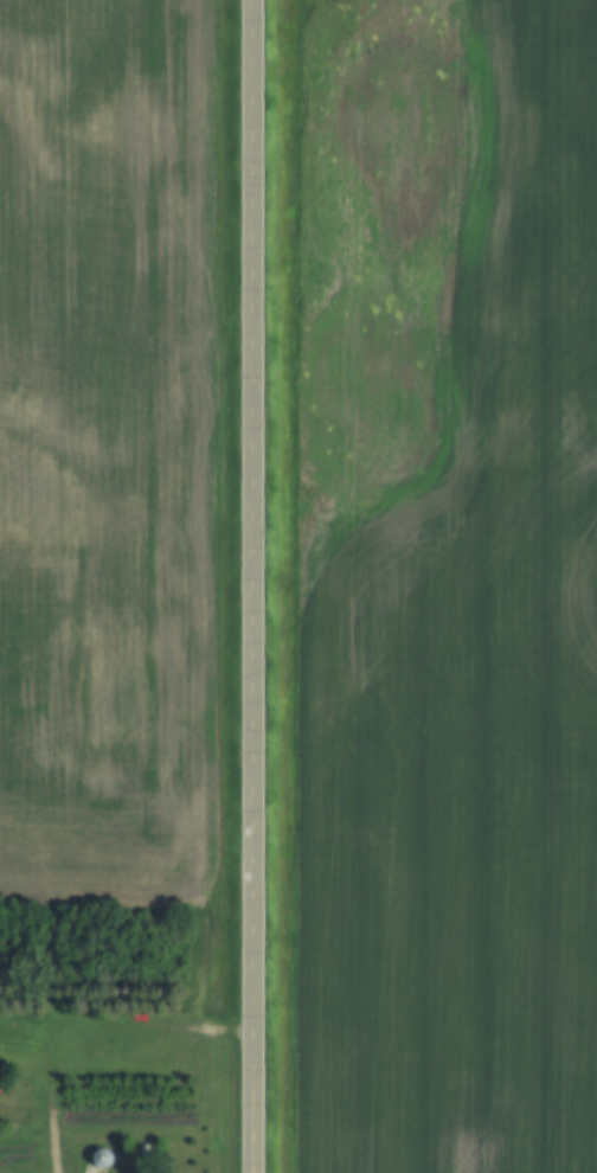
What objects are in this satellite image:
road: (263, 193)
road: (264, 780)
building: (145, 1152)
building: (102, 1159)
silo: (102, 1159)
road: (65, 1171)

